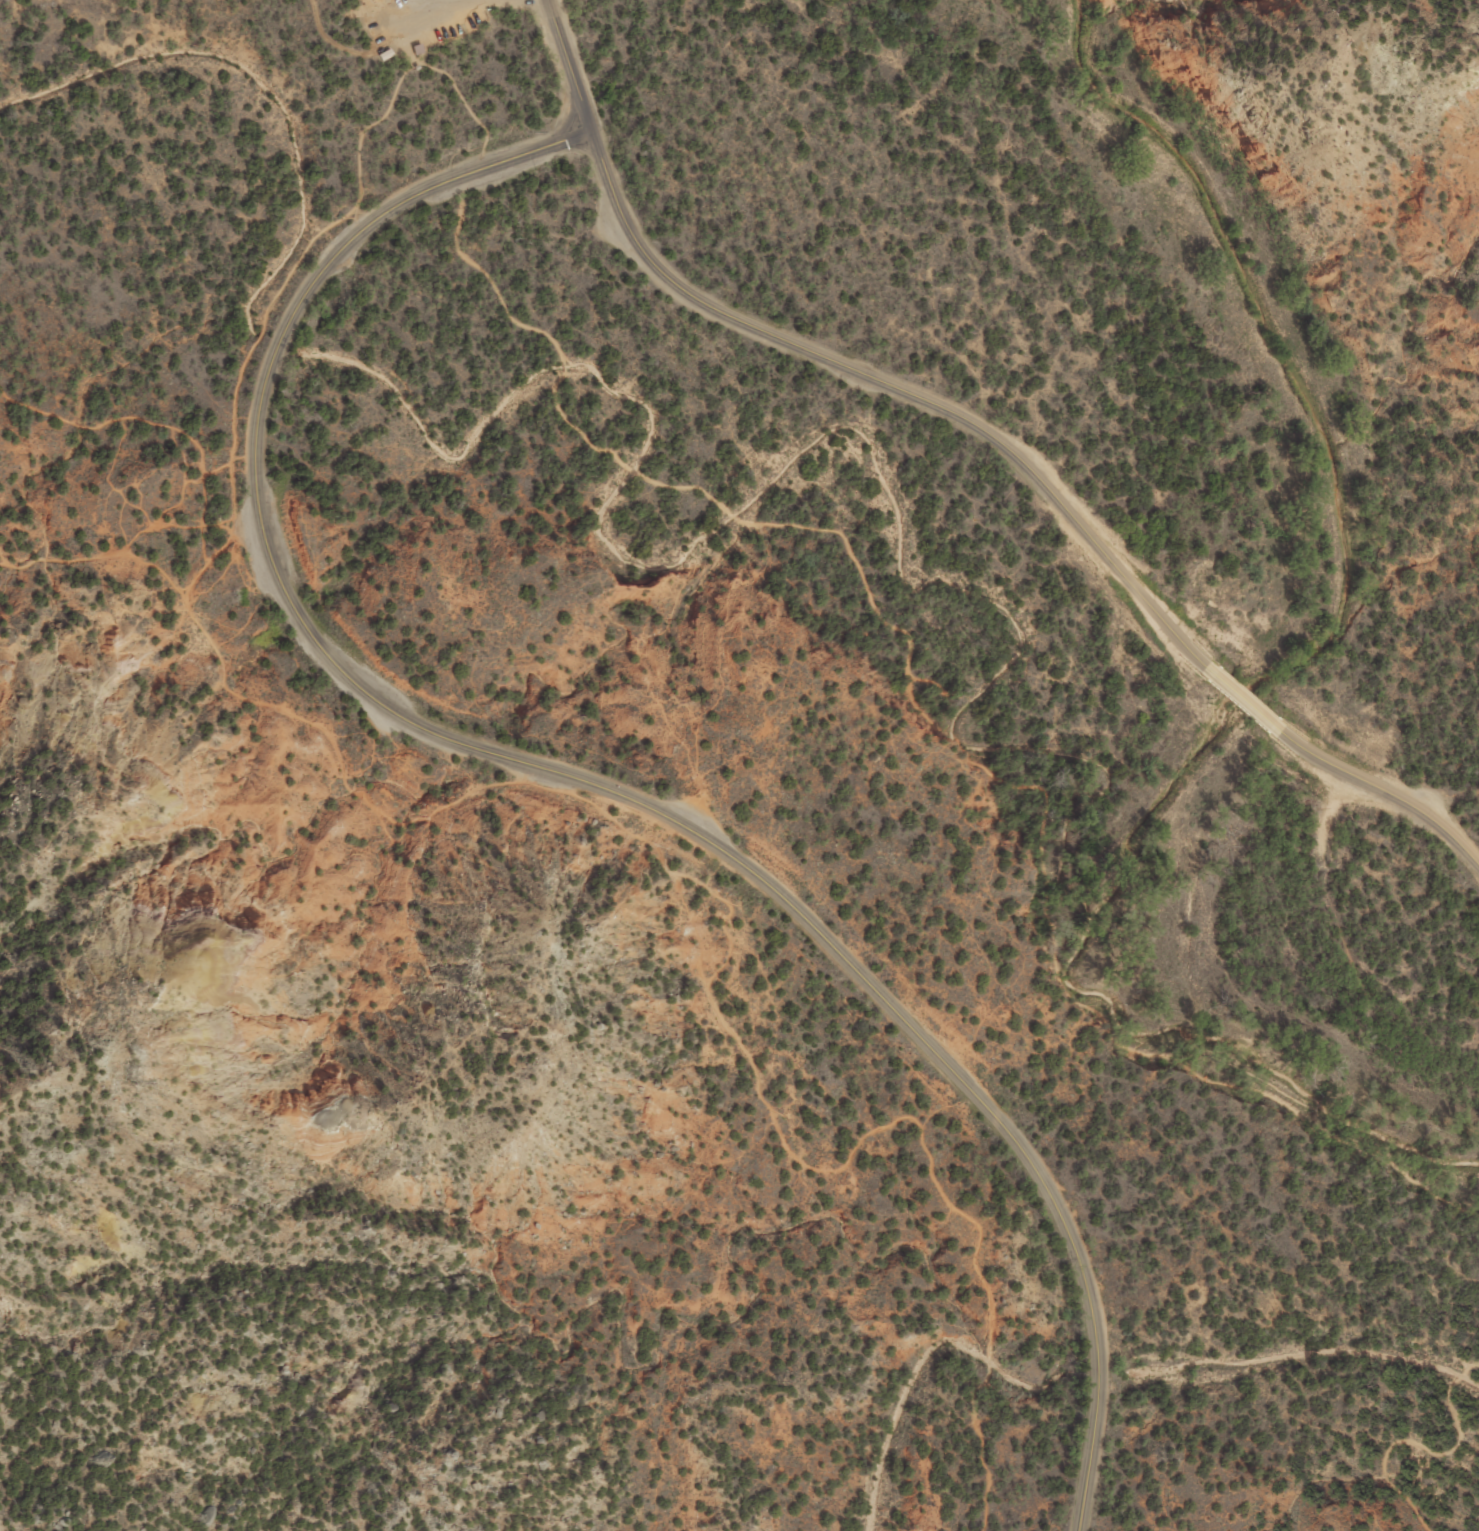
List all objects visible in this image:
road: (444, 0)
road: (371, 4)
road: (416, 4)
parking lot: (412, 21)
road: (259, 331)
road: (829, 358)
road: (122, 547)
road: (911, 650)
road: (1237, 688)
river: (1249, 688)
road: (566, 776)
road: (1378, 786)
road: (728, 939)
road: (1421, 1447)

